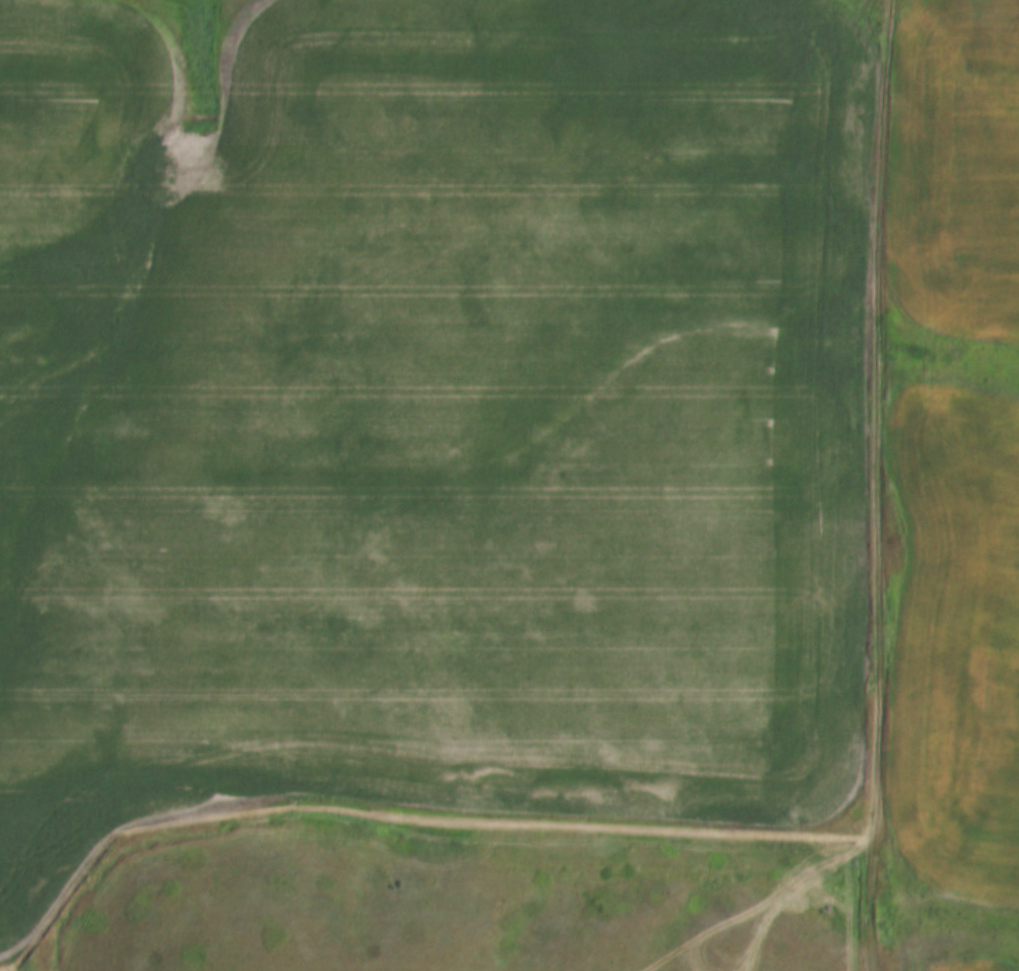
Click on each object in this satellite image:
road: (877, 485)

